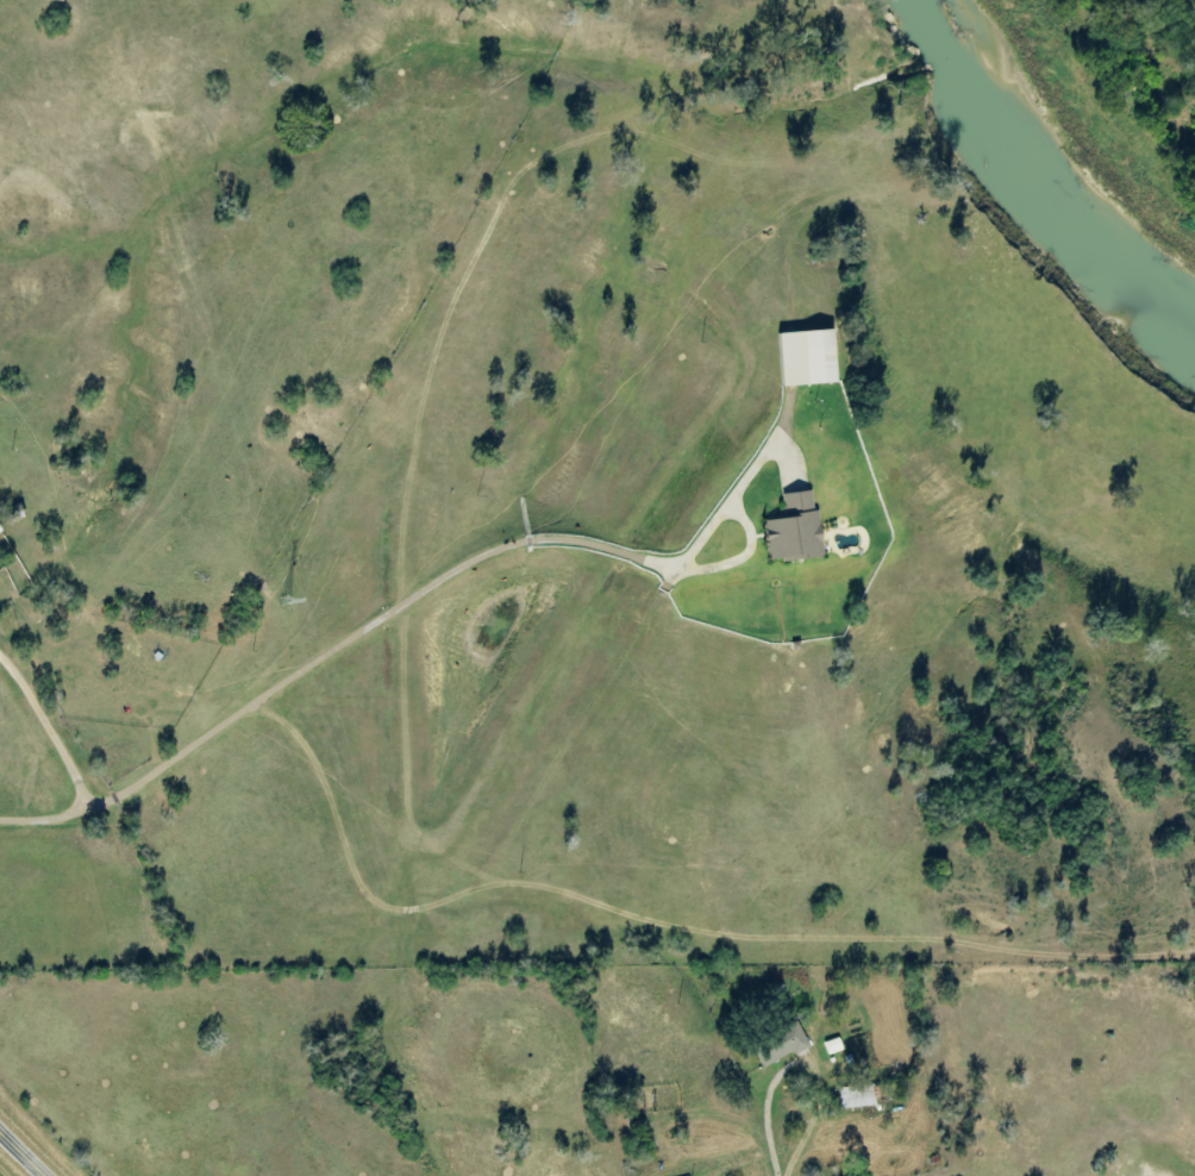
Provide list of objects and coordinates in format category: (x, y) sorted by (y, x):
river: (1066, 159)
building: (805, 357)
building: (794, 528)
building: (0, 531)
power tower: (283, 603)
road: (149, 846)
building: (780, 1046)
building: (832, 1046)
building: (856, 1096)
road: (21, 1153)

